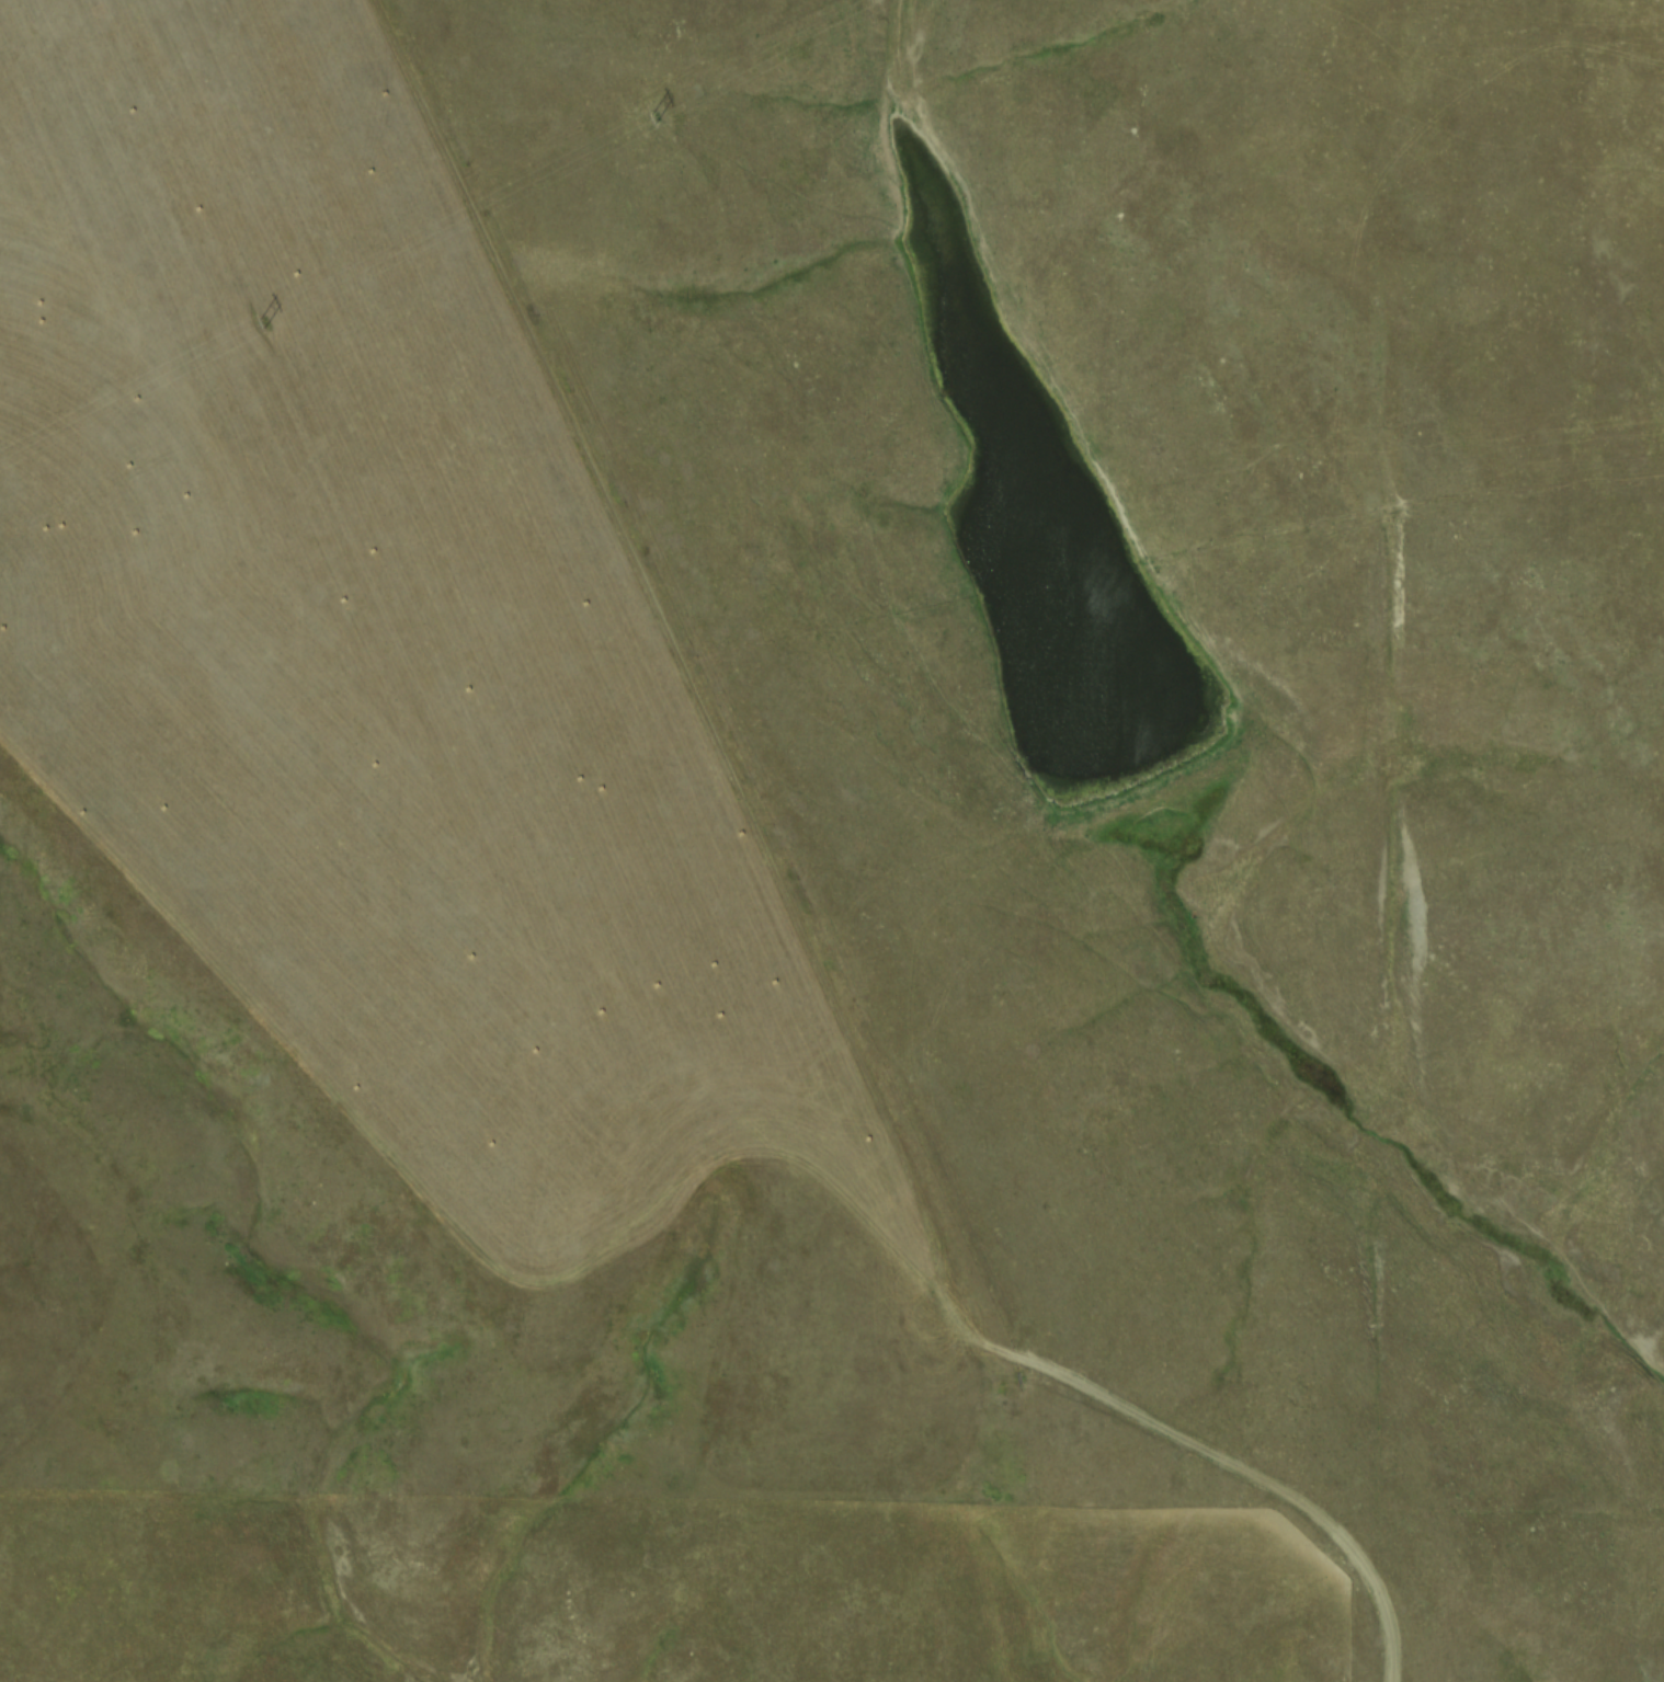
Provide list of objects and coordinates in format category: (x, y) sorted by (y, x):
power tower: (653, 116)
power tower: (262, 322)
road: (687, 673)
road: (458, 1226)
road: (1241, 1471)

